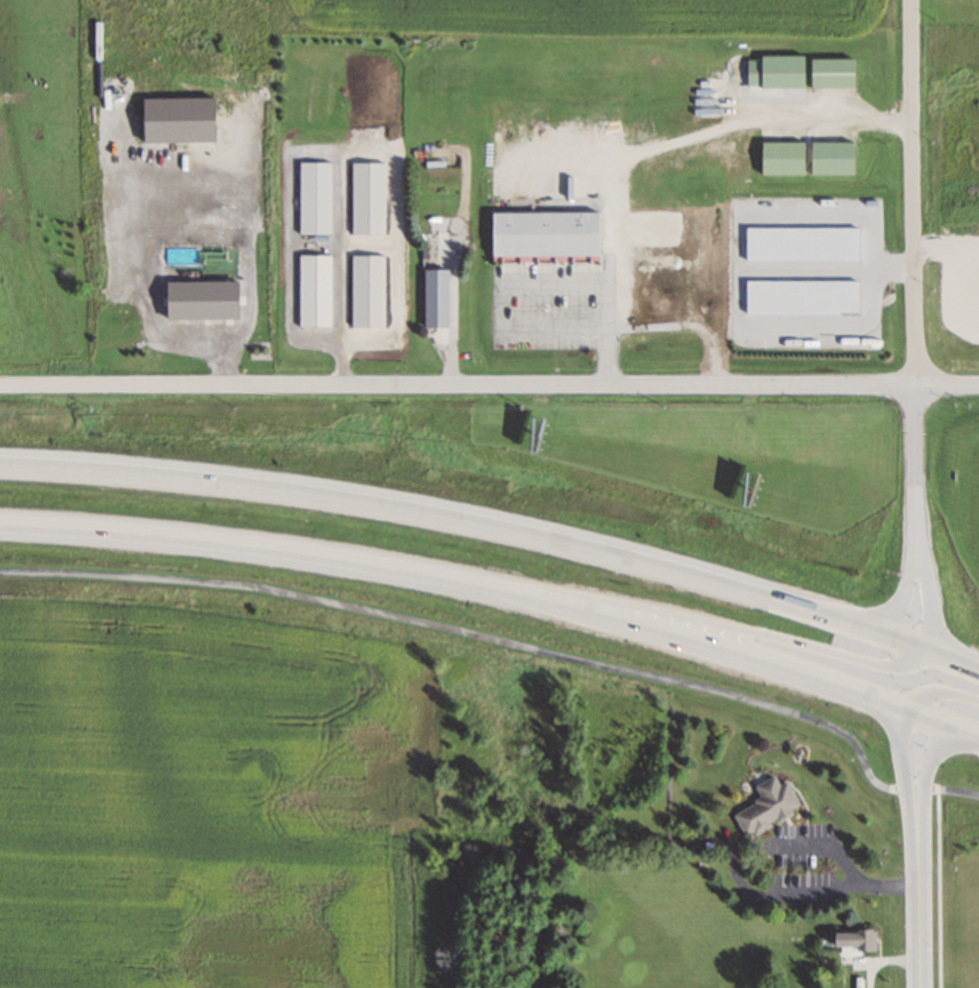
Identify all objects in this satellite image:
building: (774, 71)
building: (831, 73)
building: (780, 158)
building: (831, 158)
building: (314, 197)
building: (543, 234)
road: (916, 272)
building: (313, 291)
building: (435, 298)
building: (199, 300)
road: (489, 382)
road: (497, 528)
road: (498, 589)
road: (898, 589)
road: (929, 592)
road: (695, 618)
road: (517, 635)
road: (937, 688)
road: (907, 762)
road: (926, 763)
crop: (220, 800)
building: (766, 806)
road: (920, 901)
building: (851, 940)

